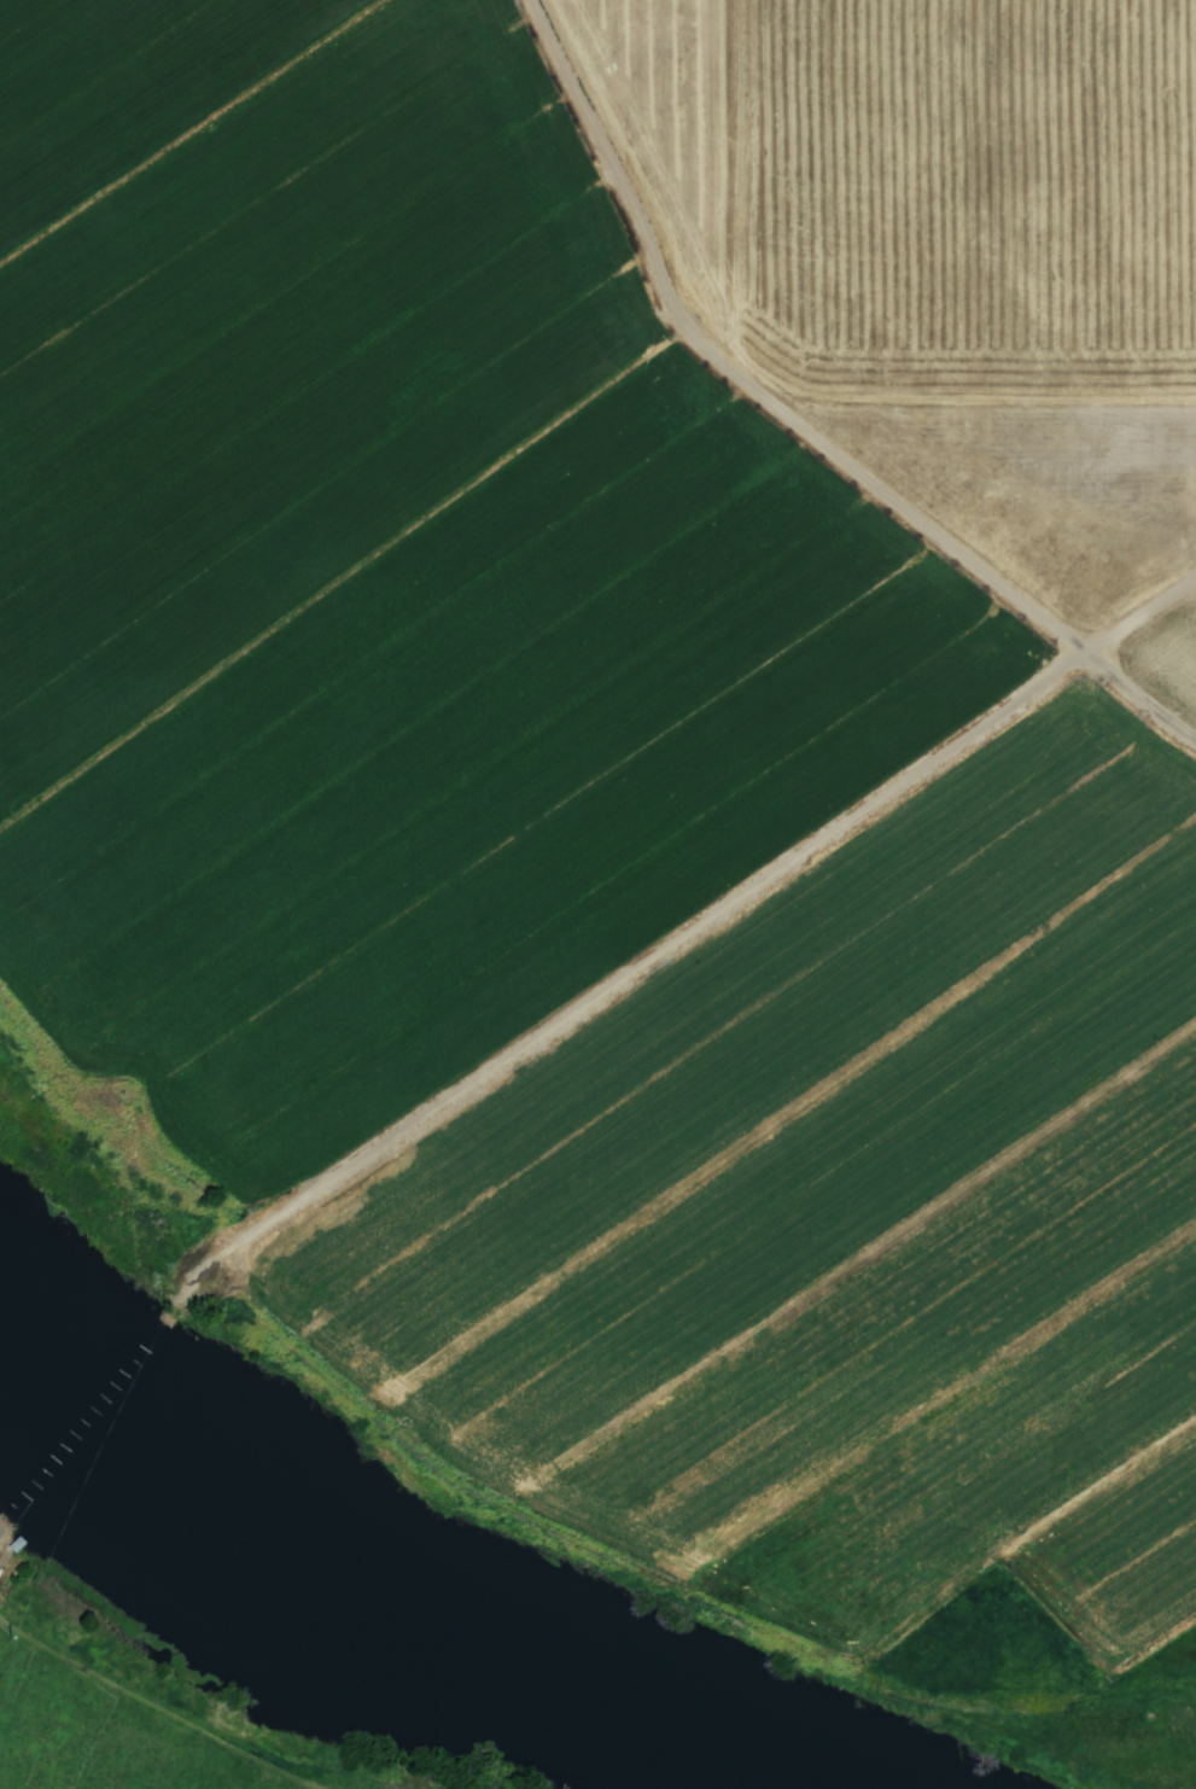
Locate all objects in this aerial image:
river: (372, 1601)

